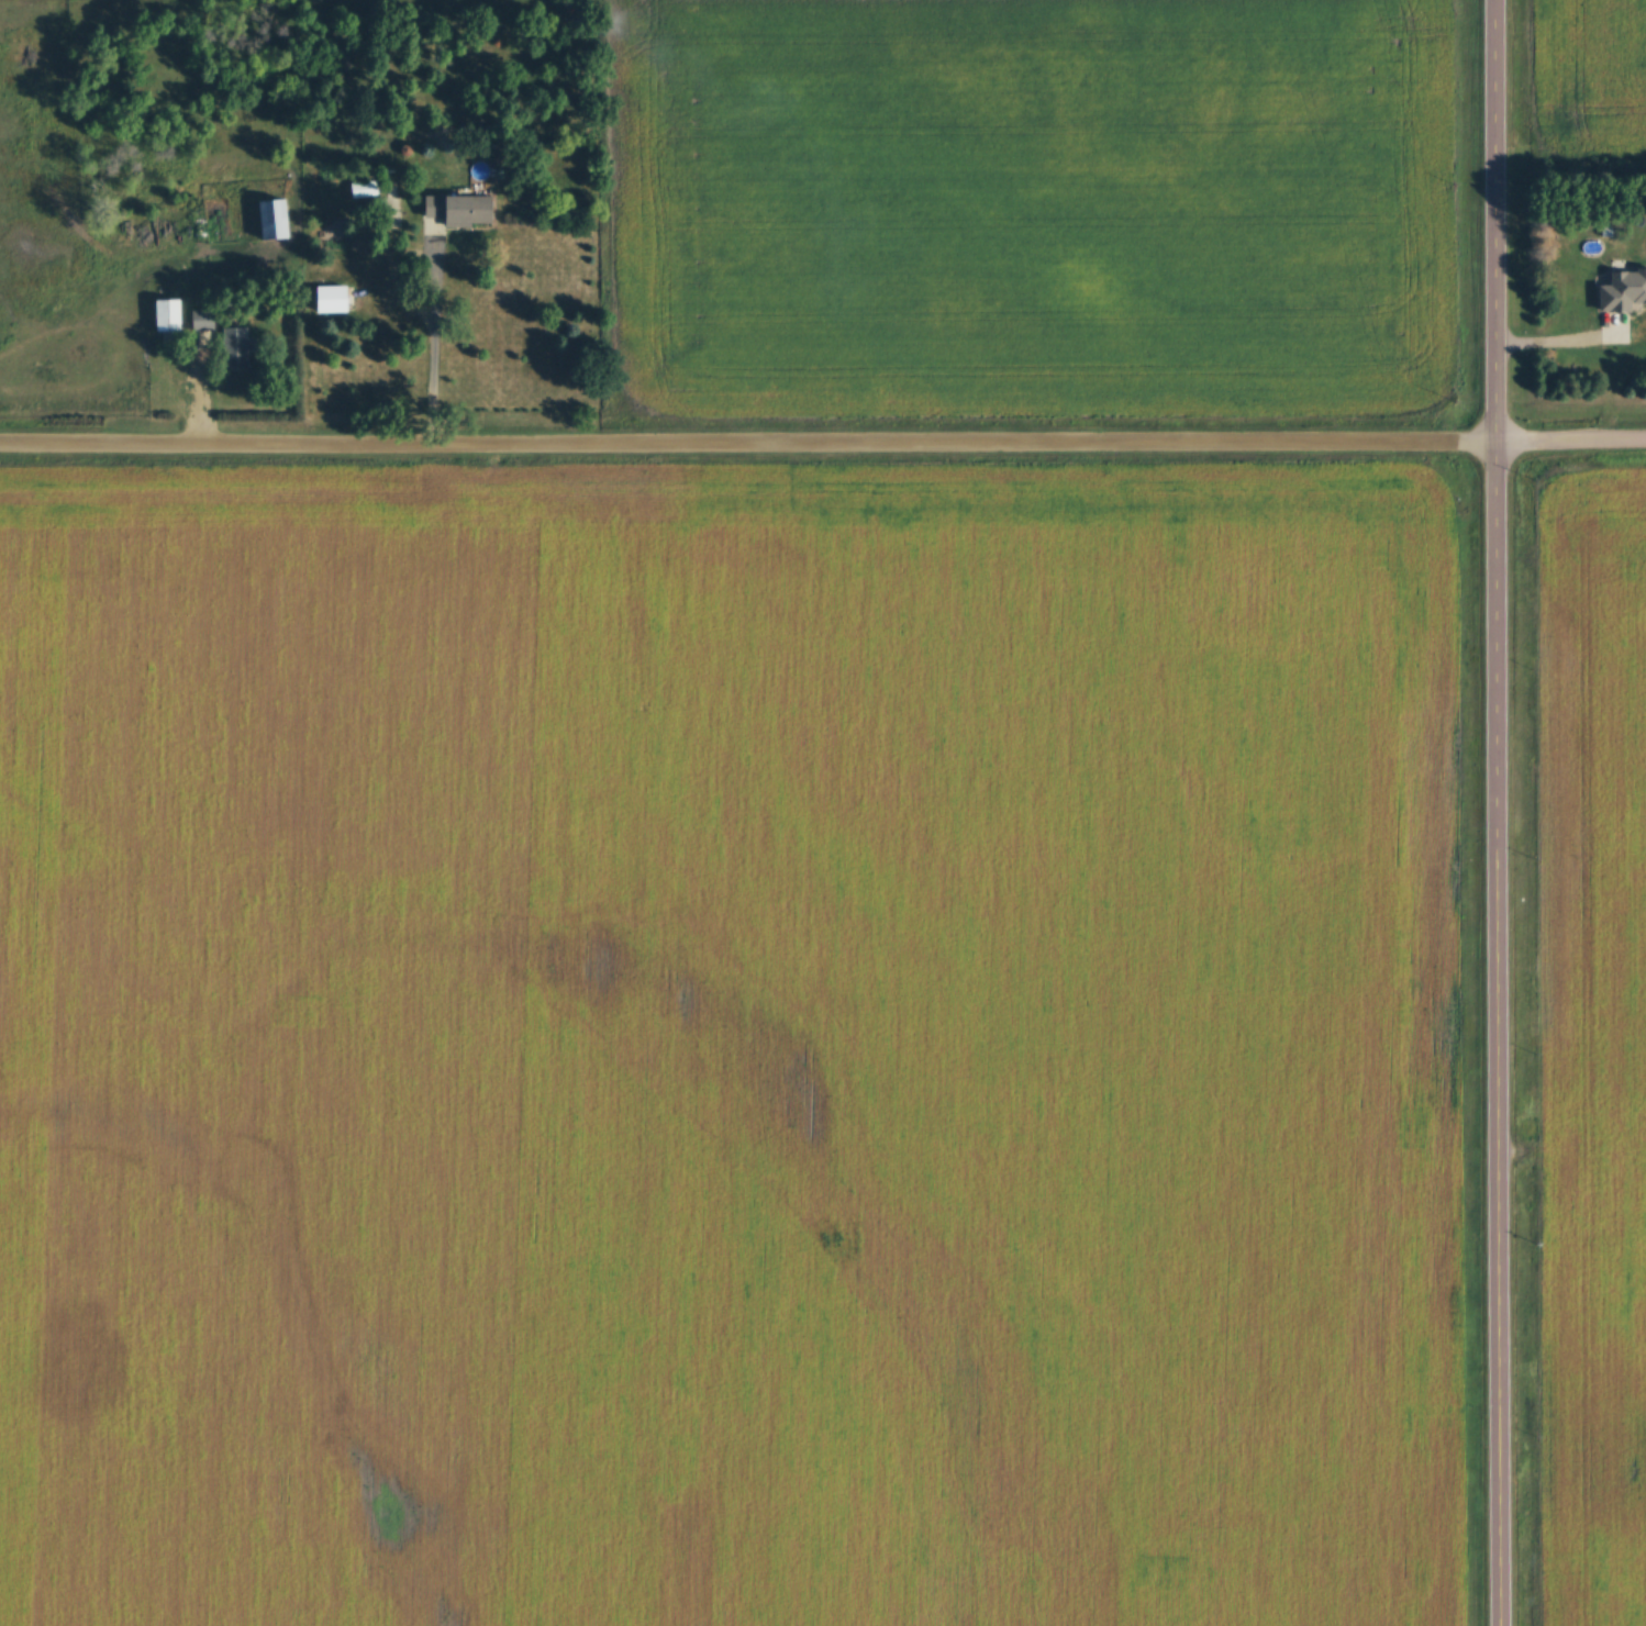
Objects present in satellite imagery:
building: (364, 192)
building: (459, 212)
building: (267, 223)
building: (1622, 287)
building: (168, 321)
building: (202, 323)
road: (1554, 341)
building: (235, 349)
road: (435, 354)
road: (823, 444)
road: (1492, 813)

